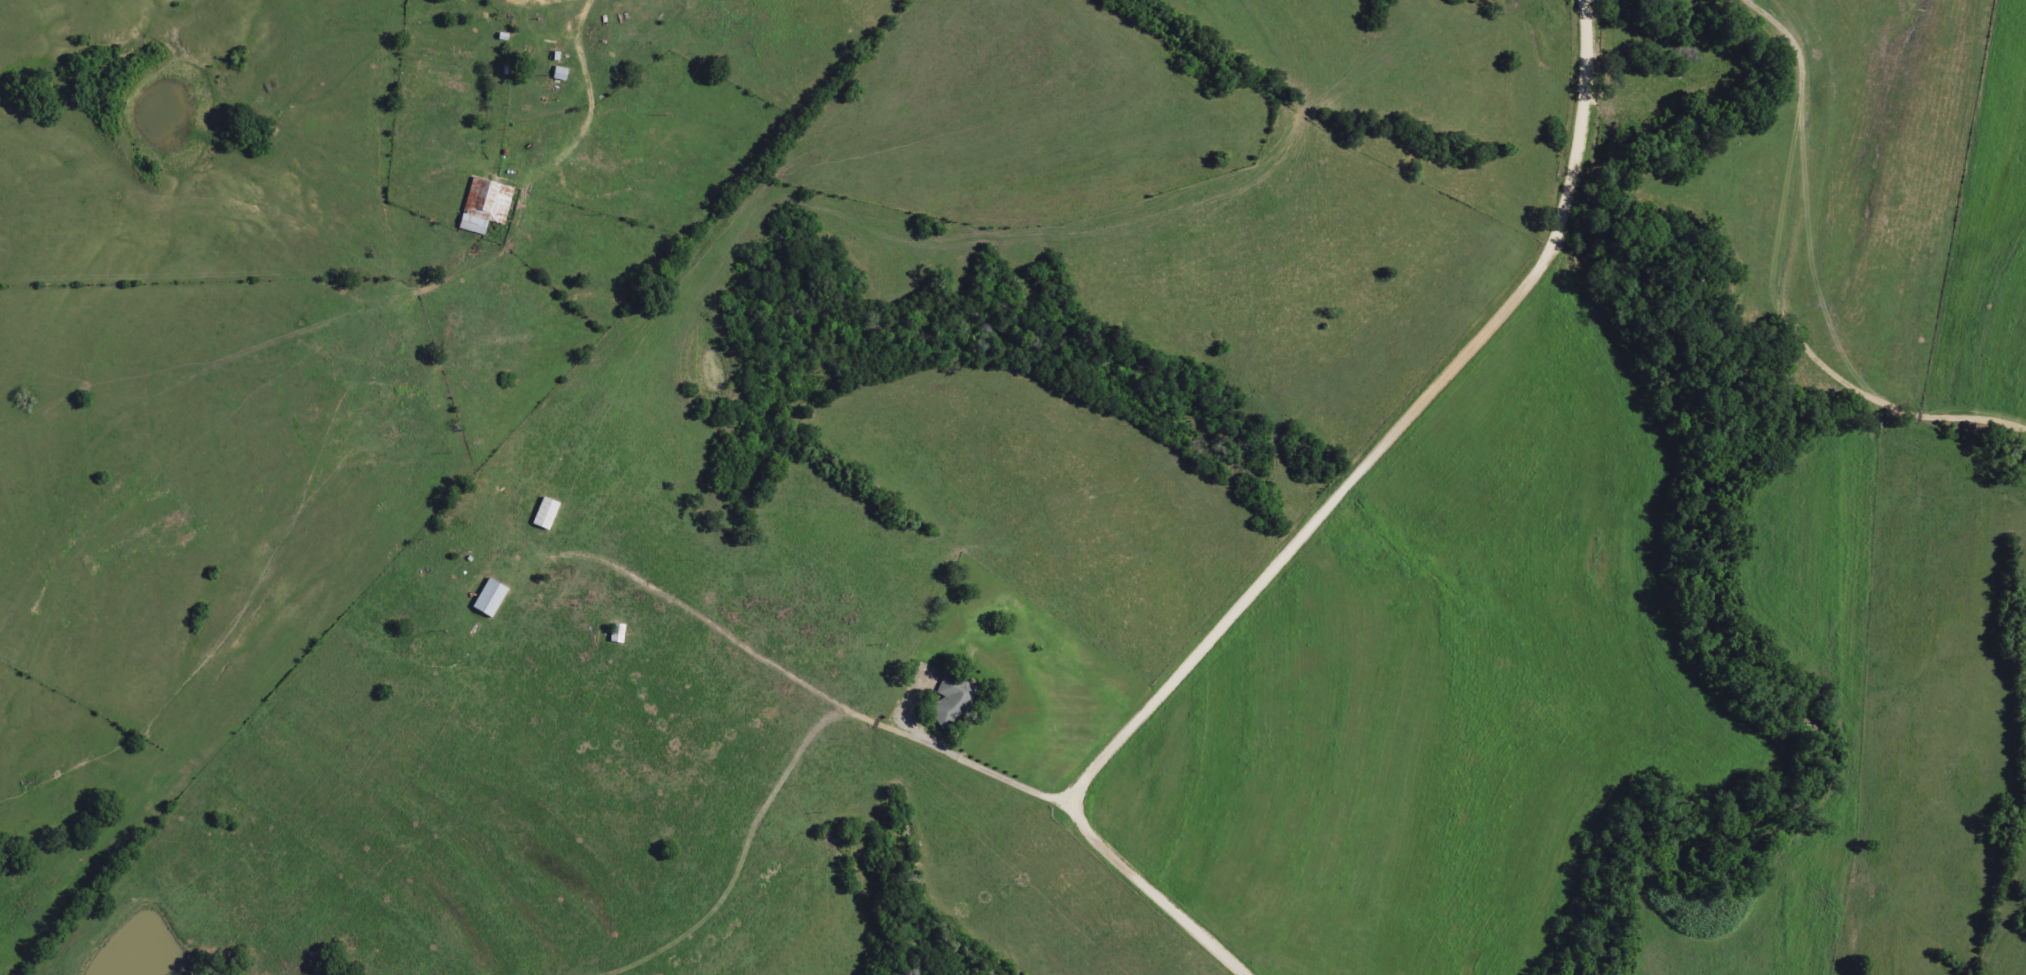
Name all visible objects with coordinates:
road: (1588, 0)
building: (484, 206)
road: (1811, 261)
road: (1318, 522)
building: (488, 599)
building: (950, 702)

